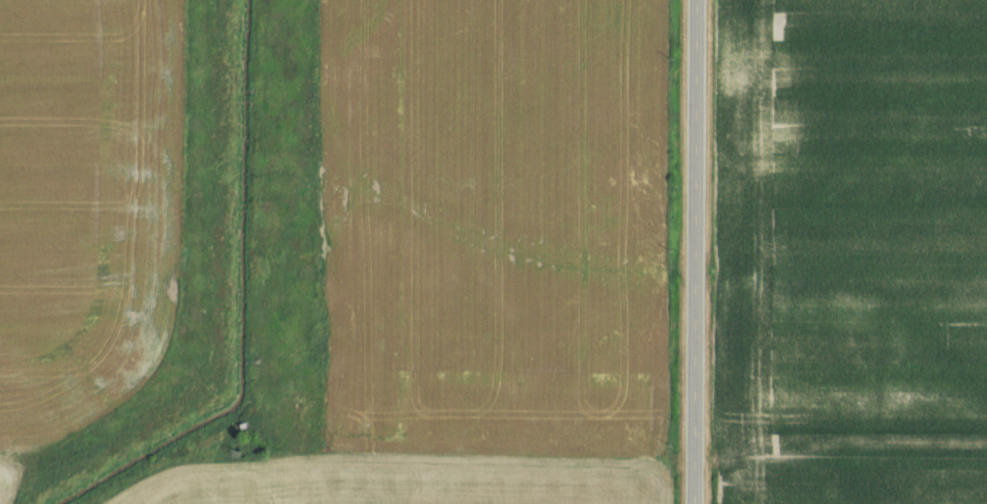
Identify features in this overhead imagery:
road: (693, 252)

